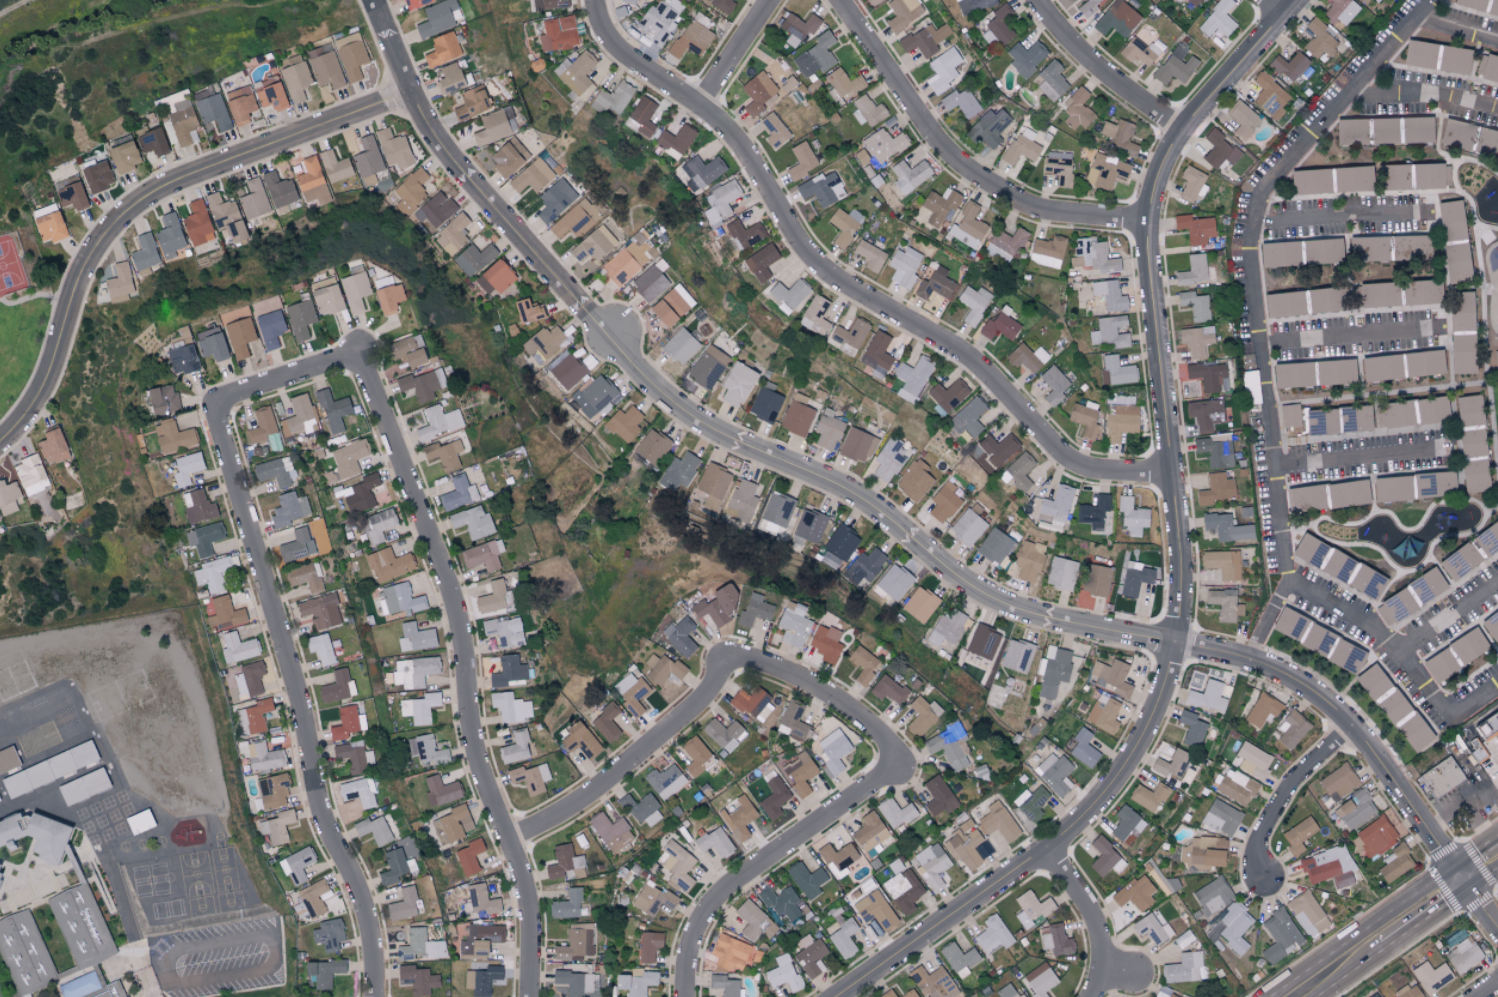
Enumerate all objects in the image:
building: (1205, 0)
building: (628, 1)
building: (872, 1)
building: (1363, 1)
building: (1193, 2)
building: (415, 3)
building: (1471, 3)
building: (550, 4)
building: (721, 5)
building: (972, 5)
building: (1088, 6)
road: (15, 7)
road: (1275, 8)
building: (1493, 8)
road: (599, 10)
building: (1340, 11)
building: (902, 12)
building: (436, 18)
building: (1116, 18)
building: (1217, 19)
building: (1000, 23)
building: (657, 24)
building: (798, 27)
road: (1456, 28)
building: (558, 33)
building: (692, 39)
building: (1320, 39)
building: (919, 43)
building: (442, 49)
building: (1138, 51)
road: (741, 54)
building: (1418, 54)
building: (350, 55)
building: (814, 56)
building: (1026, 57)
building: (1453, 59)
building: (1176, 65)
building: (324, 66)
building: (1289, 66)
building: (1487, 68)
building: (942, 70)
building: (575, 72)
road: (1102, 74)
building: (294, 77)
building: (449, 78)
building: (1051, 80)
building: (843, 86)
building: (757, 92)
road: (1423, 93)
building: (1269, 96)
building: (613, 99)
building: (472, 102)
building: (960, 102)
building: (239, 104)
building: (211, 108)
building: (1077, 110)
building: (866, 111)
building: (642, 116)
building: (1242, 119)
building: (182, 123)
building: (495, 126)
building: (987, 128)
building: (1384, 129)
building: (1416, 129)
building: (774, 130)
building: (1350, 131)
building: (1456, 133)
building: (1119, 136)
building: (677, 139)
building: (151, 141)
building: (1486, 141)
building: (882, 145)
building: (1022, 146)
building: (394, 148)
building: (1218, 150)
building: (123, 156)
building: (508, 156)
building: (368, 157)
building: (801, 160)
road: (959, 163)
building: (335, 166)
building: (1058, 167)
building: (703, 170)
building: (1105, 170)
building: (909, 175)
building: (1431, 175)
building: (97, 176)
building: (531, 176)
building: (1393, 176)
building: (1352, 178)
building: (312, 181)
building: (1310, 181)
building: (1192, 184)
building: (822, 189)
building: (279, 190)
building: (410, 190)
building: (71, 195)
building: (254, 199)
building: (555, 200)
road: (147, 201)
building: (720, 201)
building: (939, 205)
building: (435, 209)
building: (226, 217)
building: (577, 218)
road: (1335, 218)
building: (48, 223)
building: (197, 223)
building: (967, 224)
building: (844, 225)
building: (1195, 228)
building: (452, 234)
building: (744, 234)
building: (169, 236)
building: (1452, 240)
building: (1005, 243)
building: (593, 244)
building: (1410, 246)
building: (1368, 248)
building: (1321, 250)
building: (1047, 251)
building: (144, 252)
building: (1279, 253)
building: (1092, 255)
building: (870, 256)
building: (474, 259)
building: (761, 262)
building: (624, 263)
building: (904, 266)
park: (10, 268)
building: (1195, 270)
building: (496, 277)
building: (119, 282)
building: (382, 282)
building: (650, 283)
building: (935, 284)
road: (859, 289)
building: (355, 290)
building: (1420, 292)
building: (790, 293)
building: (1109, 294)
building: (1376, 294)
road: (38, 295)
building: (325, 296)
road: (1154, 296)
building: (388, 298)
building: (1322, 299)
park: (23, 304)
building: (1283, 304)
building: (671, 305)
building: (972, 305)
building: (1195, 305)
building: (528, 311)
building: (1460, 311)
building: (815, 315)
building: (300, 318)
building: (999, 325)
building: (270, 329)
building: (1108, 332)
building: (239, 336)
building: (850, 336)
road: (1345, 336)
building: (1195, 341)
building: (210, 343)
building: (543, 343)
building: (680, 346)
building: (406, 351)
building: (1461, 353)
building: (877, 354)
building: (1026, 357)
building: (181, 359)
building: (1496, 360)
building: (1423, 363)
building: (708, 366)
building: (1380, 367)
building: (1116, 370)
building: (568, 371)
building: (1334, 371)
building: (1292, 374)
building: (1208, 375)
building: (913, 378)
road: (285, 382)
building: (737, 383)
building: (422, 384)
building: (1053, 384)
road: (1266, 394)
building: (596, 395)
building: (947, 396)
building: (162, 399)
building: (766, 402)
building: (1431, 409)
building: (1468, 410)
building: (333, 411)
building: (1205, 413)
building: (1393, 414)
building: (797, 415)
building: (1290, 415)
building: (298, 417)
building: (968, 417)
building: (1084, 418)
building: (1354, 418)
road: (697, 421)
building: (438, 422)
building: (1320, 422)
building: (624, 423)
building: (264, 428)
building: (827, 429)
building: (168, 437)
building: (1471, 443)
building: (857, 445)
building: (52, 446)
building: (652, 446)
building: (998, 448)
building: (1215, 451)
building: (444, 453)
building: (348, 457)
road: (1359, 457)
building: (888, 459)
building: (186, 468)
building: (275, 471)
building: (678, 471)
building: (1018, 472)
building: (30, 475)
building: (1473, 476)
building: (914, 480)
building: (1433, 484)
building: (713, 485)
building: (442, 487)
building: (1391, 488)
building: (1216, 489)
building: (358, 493)
building: (459, 493)
building: (1347, 493)
building: (8, 497)
building: (1304, 498)
building: (741, 500)
building: (943, 502)
building: (1057, 504)
building: (197, 506)
building: (289, 508)
building: (777, 509)
building: (1093, 512)
building: (1132, 516)
building: (473, 521)
building: (378, 525)
building: (809, 527)
building: (967, 527)
building: (1226, 527)
building: (203, 538)
building: (1487, 538)
building: (296, 545)
building: (995, 546)
building: (838, 547)
building: (1310, 551)
building: (483, 555)
building: (1459, 560)
building: (1027, 562)
building: (1222, 563)
building: (388, 564)
building: (864, 566)
building: (1061, 573)
building: (1352, 574)
building: (305, 576)
building: (1134, 578)
building: (1096, 580)
building: (892, 582)
building: (1426, 585)
building: (492, 597)
building: (398, 599)
building: (920, 604)
building: (1224, 604)
building: (716, 605)
building: (1396, 605)
building: (320, 610)
building: (754, 610)
building: (224, 613)
road: (1449, 615)
road: (1267, 620)
building: (1288, 623)
building: (793, 624)
building: (1491, 625)
building: (946, 630)
building: (504, 631)
building: (680, 636)
building: (415, 637)
building: (1317, 640)
building: (983, 642)
building: (826, 643)
building: (237, 647)
building: (320, 648)
building: (1017, 655)
building: (1454, 655)
building: (1345, 656)
building: (862, 665)
building: (663, 669)
building: (414, 671)
building: (510, 671)
road: (465, 672)
building: (1112, 676)
building: (249, 679)
building: (29, 680)
building: (337, 687)
building: (888, 689)
building: (630, 692)
road: (831, 694)
building: (1207, 696)
road: (298, 701)
building: (752, 703)
building: (510, 707)
building: (420, 708)
building: (1262, 710)
building: (1103, 713)
building: (922, 715)
building: (38, 716)
building: (253, 717)
building: (1404, 721)
building: (606, 722)
building: (792, 722)
building: (347, 723)
road: (1347, 723)
building: (1488, 727)
building: (1191, 728)
building: (1291, 729)
building: (723, 734)
building: (579, 740)
building: (949, 744)
building: (515, 747)
building: (1083, 748)
road: (1493, 749)
building: (429, 750)
building: (833, 751)
building: (695, 755)
building: (263, 756)
building: (353, 756)
building: (1482, 758)
building: (49, 759)
road: (633, 759)
building: (1252, 760)
building: (1172, 764)
building: (799, 773)
building: (1054, 773)
building: (530, 778)
building: (664, 781)
building: (1338, 782)
building: (1445, 782)
building: (1236, 787)
building: (88, 791)
building: (441, 791)
building: (273, 792)
building: (359, 792)
road: (1287, 793)
building: (938, 796)
building: (1148, 796)
building: (773, 798)
building: (2, 800)
building: (1031, 802)
road: (1462, 805)
building: (641, 809)
building: (1355, 809)
building: (895, 812)
building: (1221, 817)
building: (740, 818)
building: (998, 821)
building: (452, 825)
building: (1127, 825)
building: (145, 827)
building: (277, 827)
building: (374, 830)
building: (610, 831)
building: (870, 833)
building: (35, 835)
building: (1298, 835)
building: (1375, 838)
building: (714, 842)
building: (963, 844)
road: (1043, 849)
building: (1207, 851)
building: (837, 855)
building: (469, 856)
building: (1105, 858)
building: (562, 861)
road: (764, 863)
building: (1394, 863)
building: (932, 864)
building: (676, 865)
building: (297, 866)
building: (897, 866)
building: (396, 867)
building: (1328, 867)
road: (1480, 867)
building: (806, 879)
traffic signals: (1462, 880)
building: (904, 890)
building: (1134, 895)
building: (1212, 896)
building: (313, 898)
building: (653, 899)
building: (481, 900)
building: (780, 902)
road: (1480, 903)
building: (405, 904)
building: (567, 905)
building: (1031, 909)
building: (875, 910)
road: (1420, 910)
building: (1307, 914)
road: (1090, 917)
building: (751, 919)
road: (128, 925)
building: (1232, 927)
building: (1152, 929)
building: (86, 930)
building: (328, 934)
building: (993, 935)
building: (1279, 935)
building: (844, 938)
building: (1055, 940)
building: (480, 941)
building: (575, 942)
building: (419, 945)
building: (649, 946)
road: (276, 950)
building: (730, 953)
building: (27, 954)
building: (1463, 955)
building: (810, 956)
parking lot: (217, 957)
building: (959, 959)
road: (1116, 966)
building: (1184, 968)
road: (1339, 968)
building: (323, 972)
building: (782, 973)
building: (1431, 977)
building: (418, 979)
building: (481, 980)
building: (1040, 980)
building: (576, 982)
building: (636, 982)
building: (933, 982)
building: (724, 985)
building: (77, 986)
road: (1488, 990)
building: (1007, 991)
building: (1408, 991)
building: (113, 992)
building: (1164, 993)
building: (888, 994)
building: (909, 994)
building: (1375, 995)
building: (0, 996)
building: (1150, 996)

